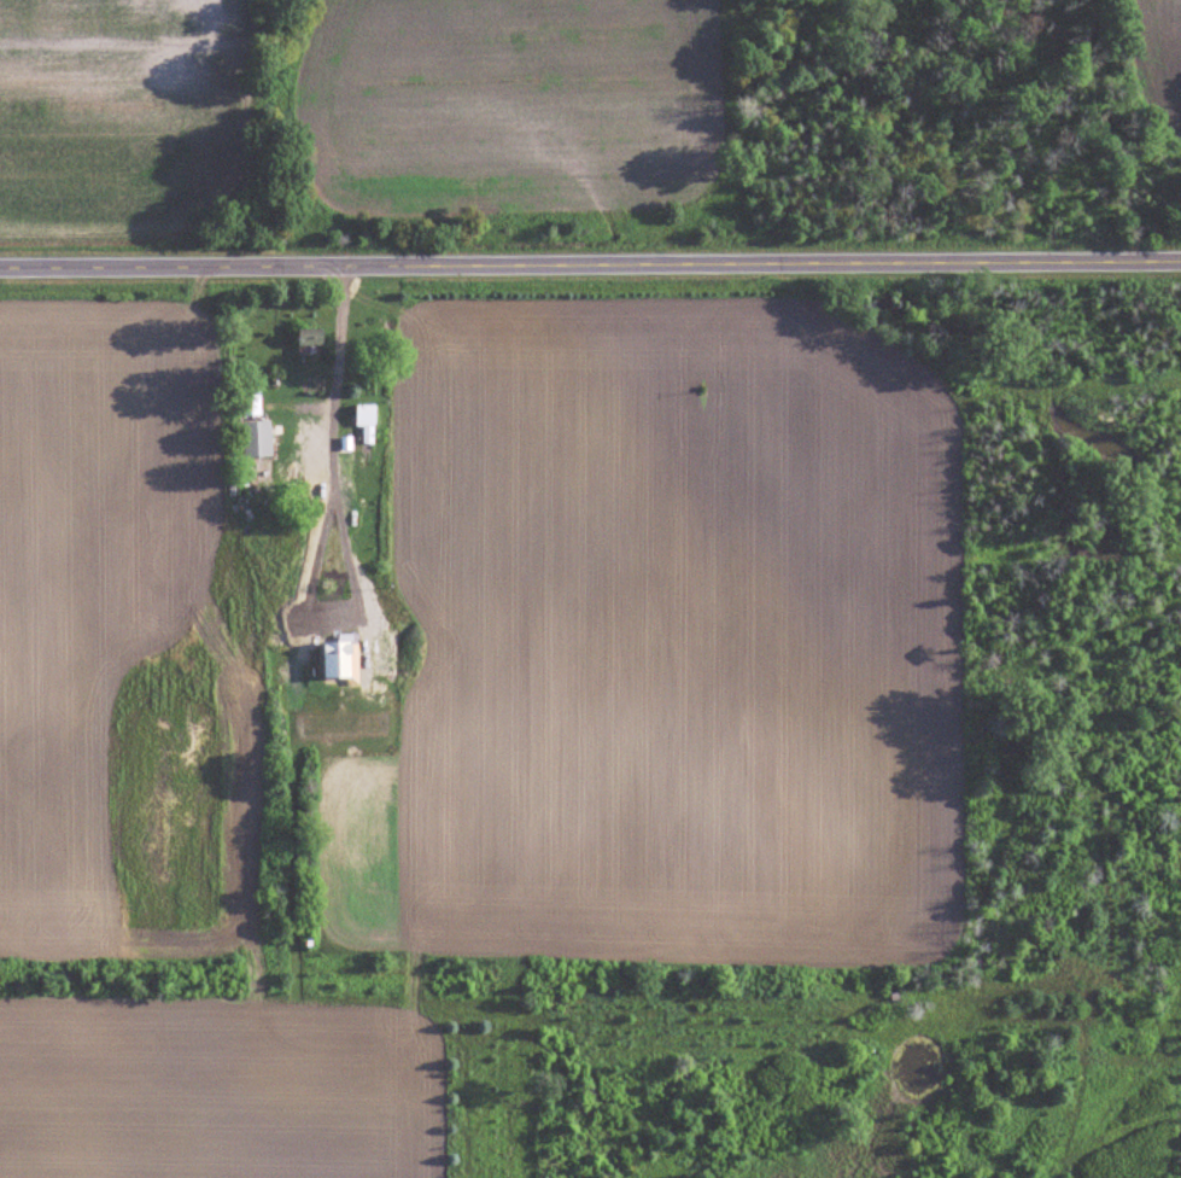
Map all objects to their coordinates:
road: (590, 252)
building: (311, 337)
building: (367, 414)
road: (333, 422)
building: (258, 437)
building: (327, 461)

